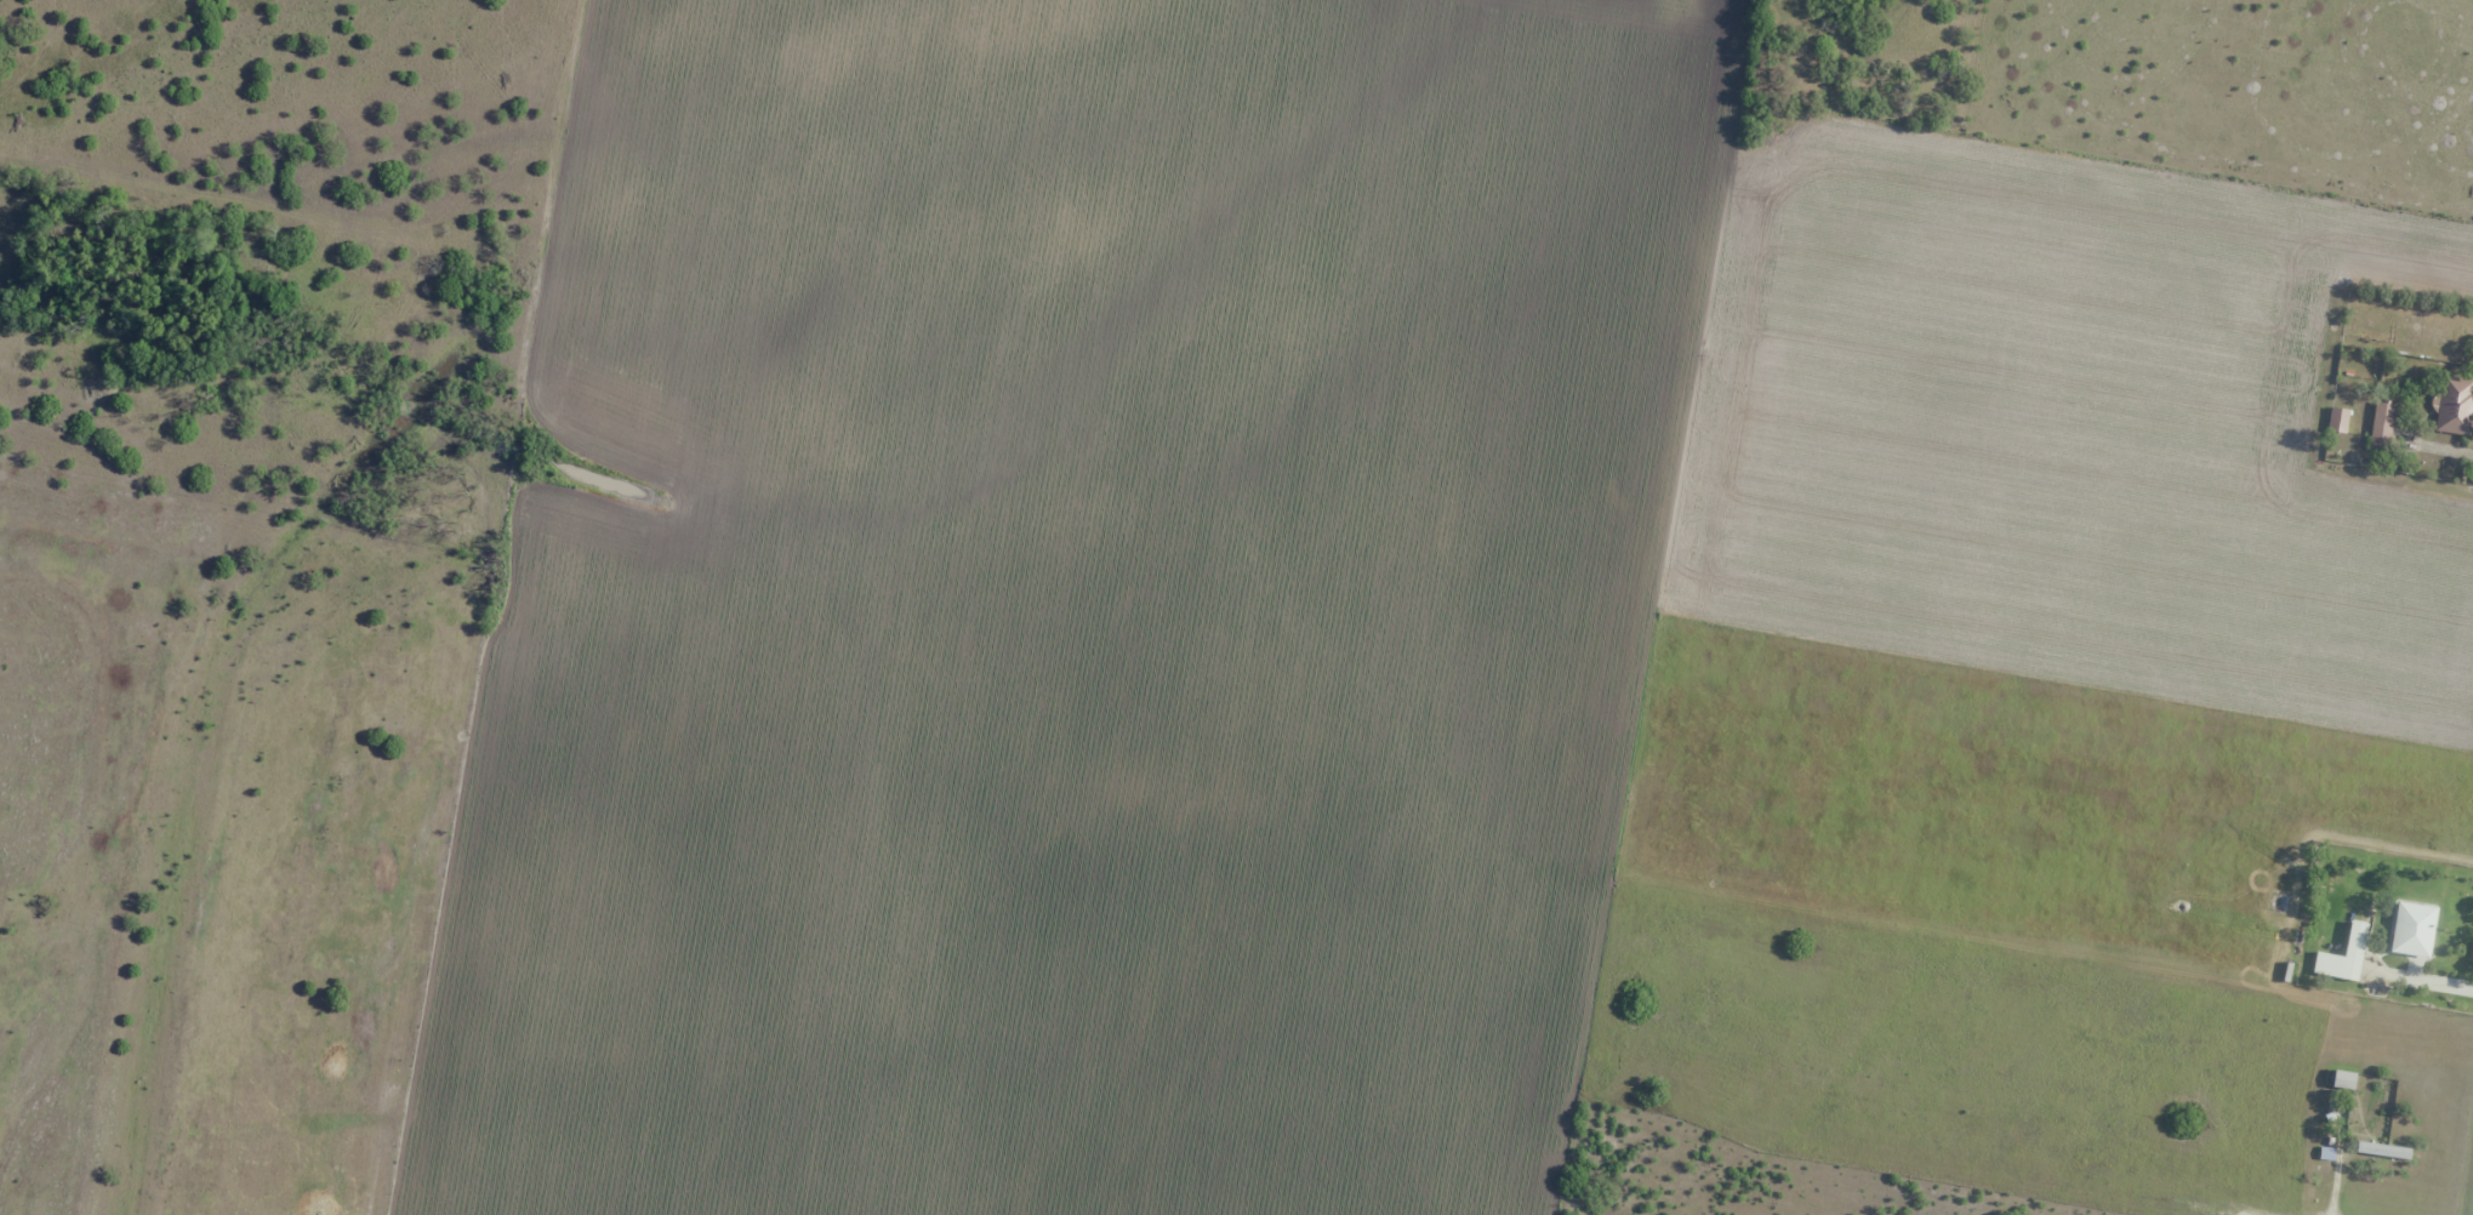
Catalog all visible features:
building: (2455, 405)
building: (2337, 421)
building: (2381, 424)
building: (2348, 945)
building: (2342, 1080)
building: (2382, 1150)

